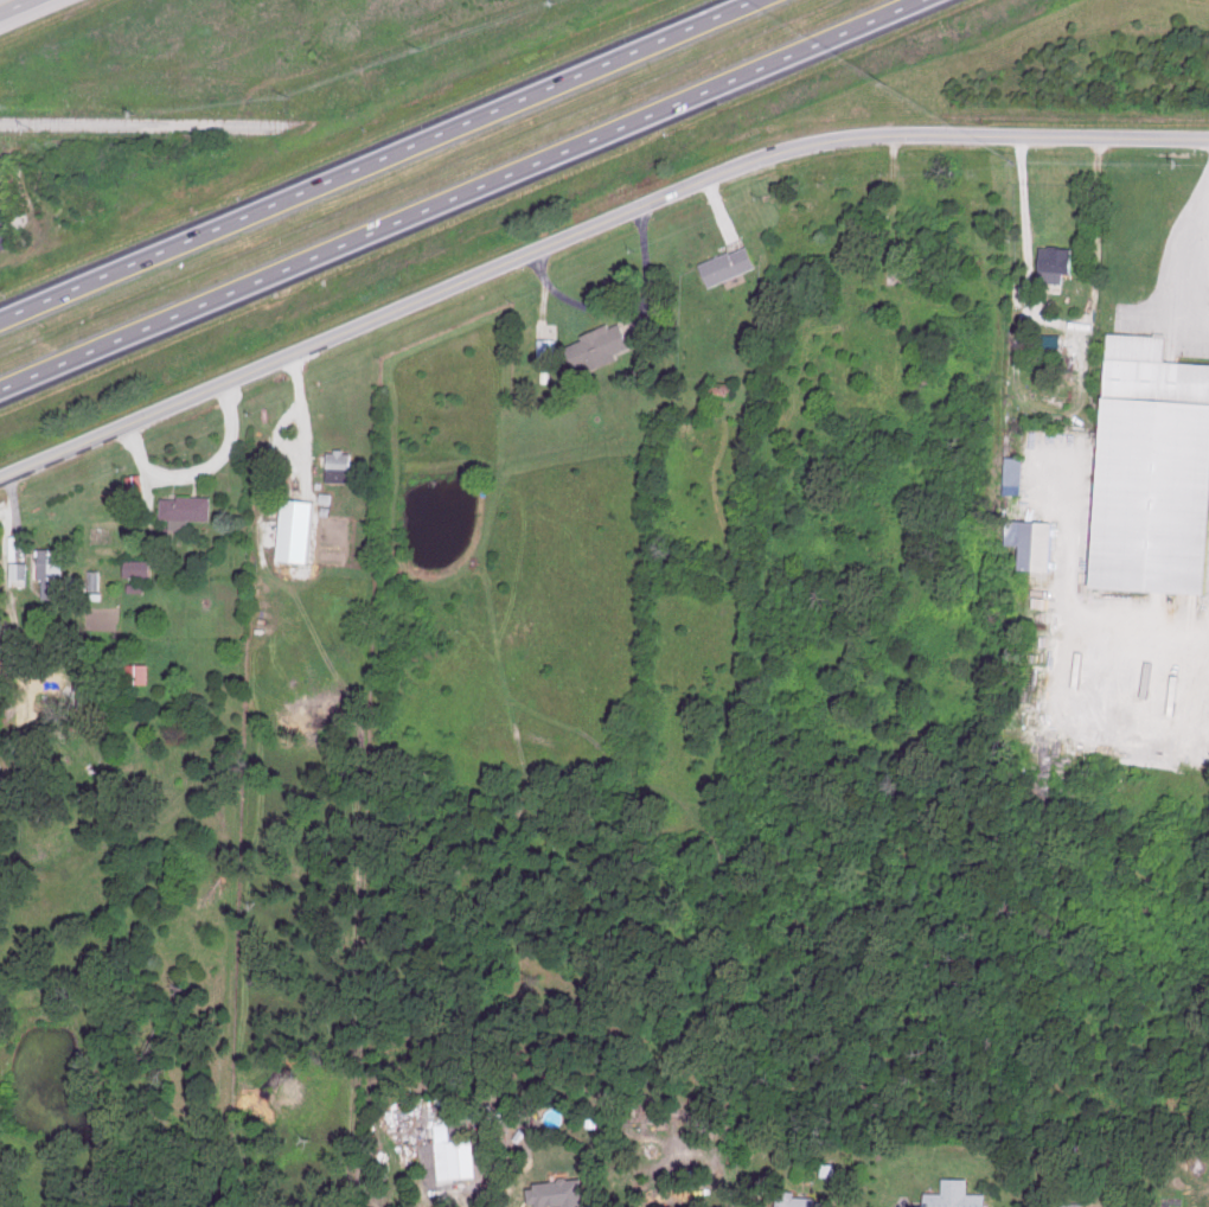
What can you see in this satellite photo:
road: (20, 8)
road: (142, 133)
road: (377, 160)
road: (466, 194)
road: (1021, 197)
road: (587, 230)
building: (1057, 262)
building: (731, 263)
road: (1204, 277)
building: (602, 344)
building: (546, 349)
building: (344, 464)
building: (1017, 471)
building: (1154, 472)
road: (199, 473)
building: (137, 481)
building: (190, 507)
building: (300, 529)
building: (1036, 539)
building: (18, 547)
building: (140, 567)
building: (19, 569)
building: (58, 574)
building: (96, 580)
building: (139, 586)
building: (459, 1147)
building: (827, 1168)
building: (561, 1192)
building: (959, 1195)
building: (802, 1200)
building: (1079, 1205)

